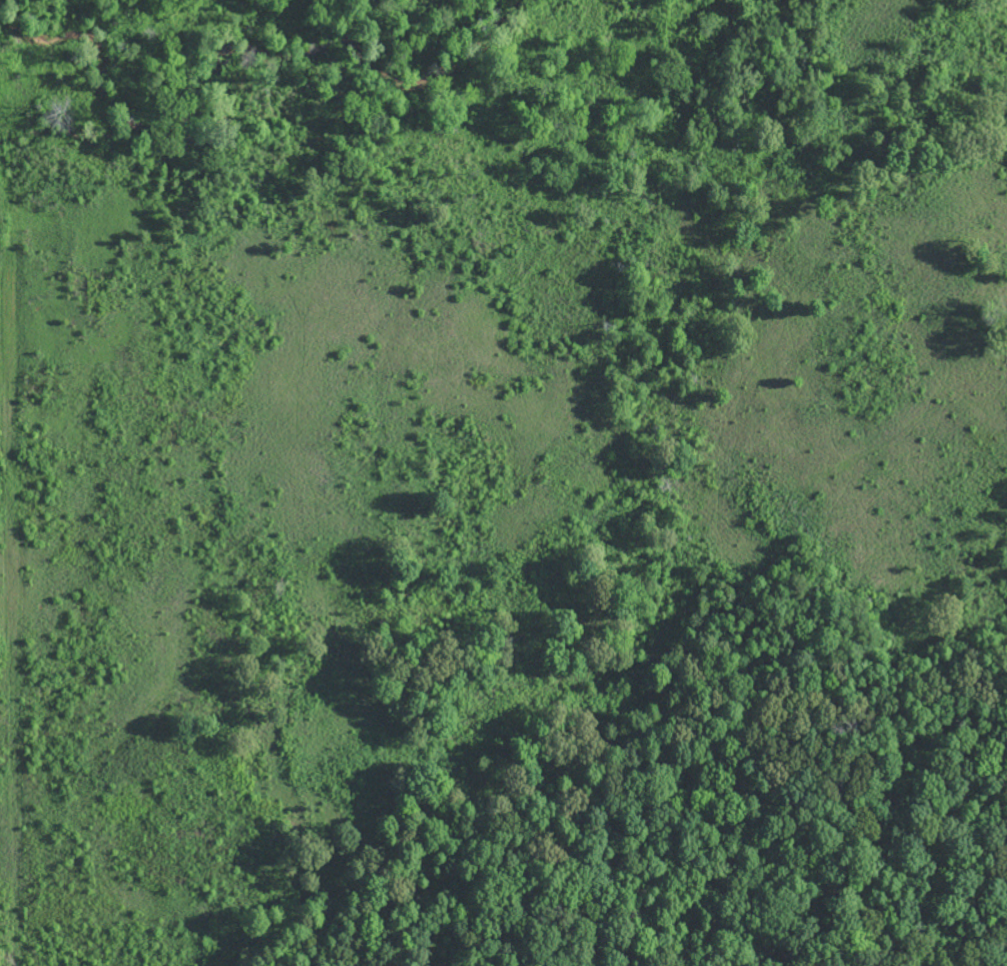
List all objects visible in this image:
road: (14, 567)

